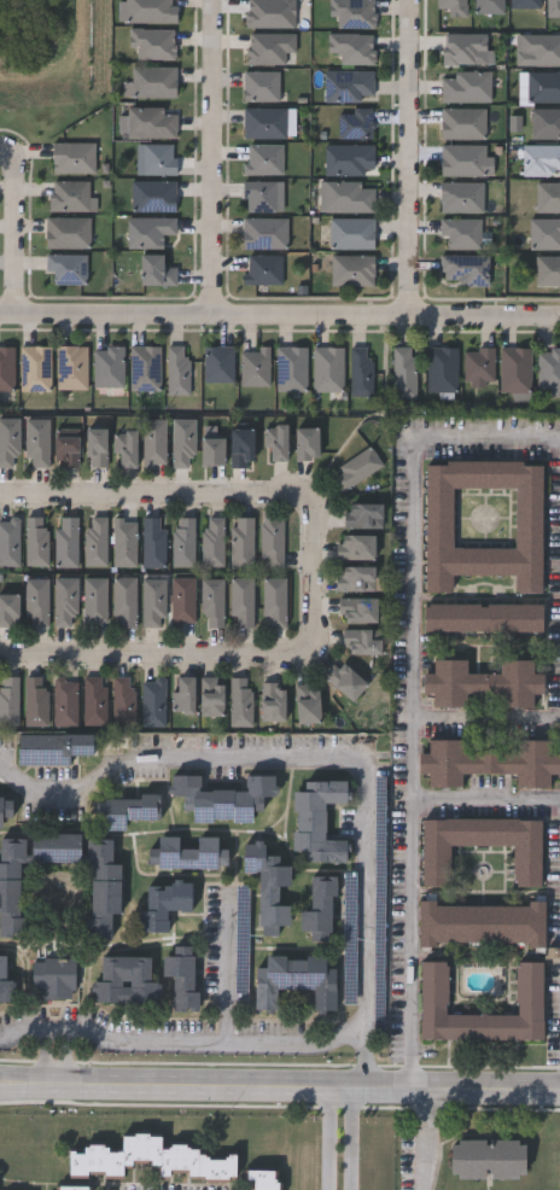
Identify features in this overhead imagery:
building: (524, 4)
building: (488, 6)
building: (148, 11)
building: (151, 81)
building: (261, 84)
building: (348, 84)
building: (465, 86)
building: (543, 86)
building: (151, 121)
building: (263, 121)
building: (355, 123)
building: (462, 123)
building: (546, 123)
road: (14, 146)
building: (71, 157)
building: (159, 158)
building: (263, 158)
building: (349, 158)
building: (462, 159)
building: (541, 159)
road: (212, 163)
road: (408, 165)
building: (70, 196)
building: (152, 196)
building: (262, 196)
building: (346, 197)
building: (461, 197)
building: (547, 197)
building: (148, 231)
building: (66, 232)
building: (264, 232)
building: (461, 232)
building: (351, 233)
building: (546, 233)
road: (16, 245)
building: (65, 268)
building: (262, 268)
building: (352, 269)
building: (463, 269)
building: (547, 269)
building: (156, 270)
road: (280, 328)
building: (218, 363)
building: (109, 366)
building: (478, 366)
building: (71, 367)
building: (255, 367)
building: (548, 367)
building: (6, 368)
building: (35, 368)
building: (145, 368)
building: (291, 368)
building: (327, 368)
building: (441, 368)
building: (514, 368)
building: (177, 369)
building: (361, 371)
building: (403, 372)
road: (559, 436)
building: (8, 442)
building: (36, 442)
building: (152, 442)
building: (275, 442)
building: (182, 443)
building: (304, 443)
building: (94, 447)
building: (240, 447)
building: (65, 448)
building: (124, 449)
building: (210, 451)
building: (355, 468)
road: (154, 504)
building: (361, 515)
building: (484, 521)
building: (36, 539)
building: (8, 541)
building: (66, 541)
building: (94, 541)
building: (212, 541)
building: (123, 542)
building: (153, 542)
building: (182, 542)
building: (241, 542)
building: (270, 542)
building: (355, 547)
road: (309, 578)
building: (355, 579)
building: (93, 600)
building: (181, 600)
building: (36, 601)
building: (123, 601)
building: (241, 601)
building: (64, 602)
building: (152, 602)
building: (211, 602)
building: (274, 602)
building: (8, 609)
building: (357, 609)
building: (483, 617)
building: (360, 641)
road: (154, 653)
building: (344, 679)
building: (483, 683)
road: (413, 688)
building: (182, 694)
building: (210, 695)
building: (8, 700)
building: (34, 700)
building: (93, 700)
building: (123, 700)
building: (64, 701)
building: (152, 701)
building: (240, 701)
building: (272, 701)
building: (307, 702)
road: (486, 714)
building: (56, 749)
road: (342, 760)
building: (490, 762)
road: (488, 795)
building: (223, 798)
building: (5, 806)
building: (129, 809)
building: (317, 821)
building: (57, 848)
building: (191, 853)
building: (436, 865)
building: (11, 885)
building: (269, 885)
building: (101, 887)
building: (164, 902)
building: (320, 903)
building: (483, 923)
road: (226, 968)
building: (182, 976)
building: (54, 978)
building: (6, 980)
building: (124, 980)
building: (296, 981)
building: (527, 987)
road: (179, 1040)
road: (45, 1056)
road: (70, 1057)
road: (280, 1093)
road: (420, 1141)
road: (328, 1142)
road: (354, 1142)
building: (488, 1159)
building: (150, 1160)
building: (258, 1179)
building: (69, 1188)

